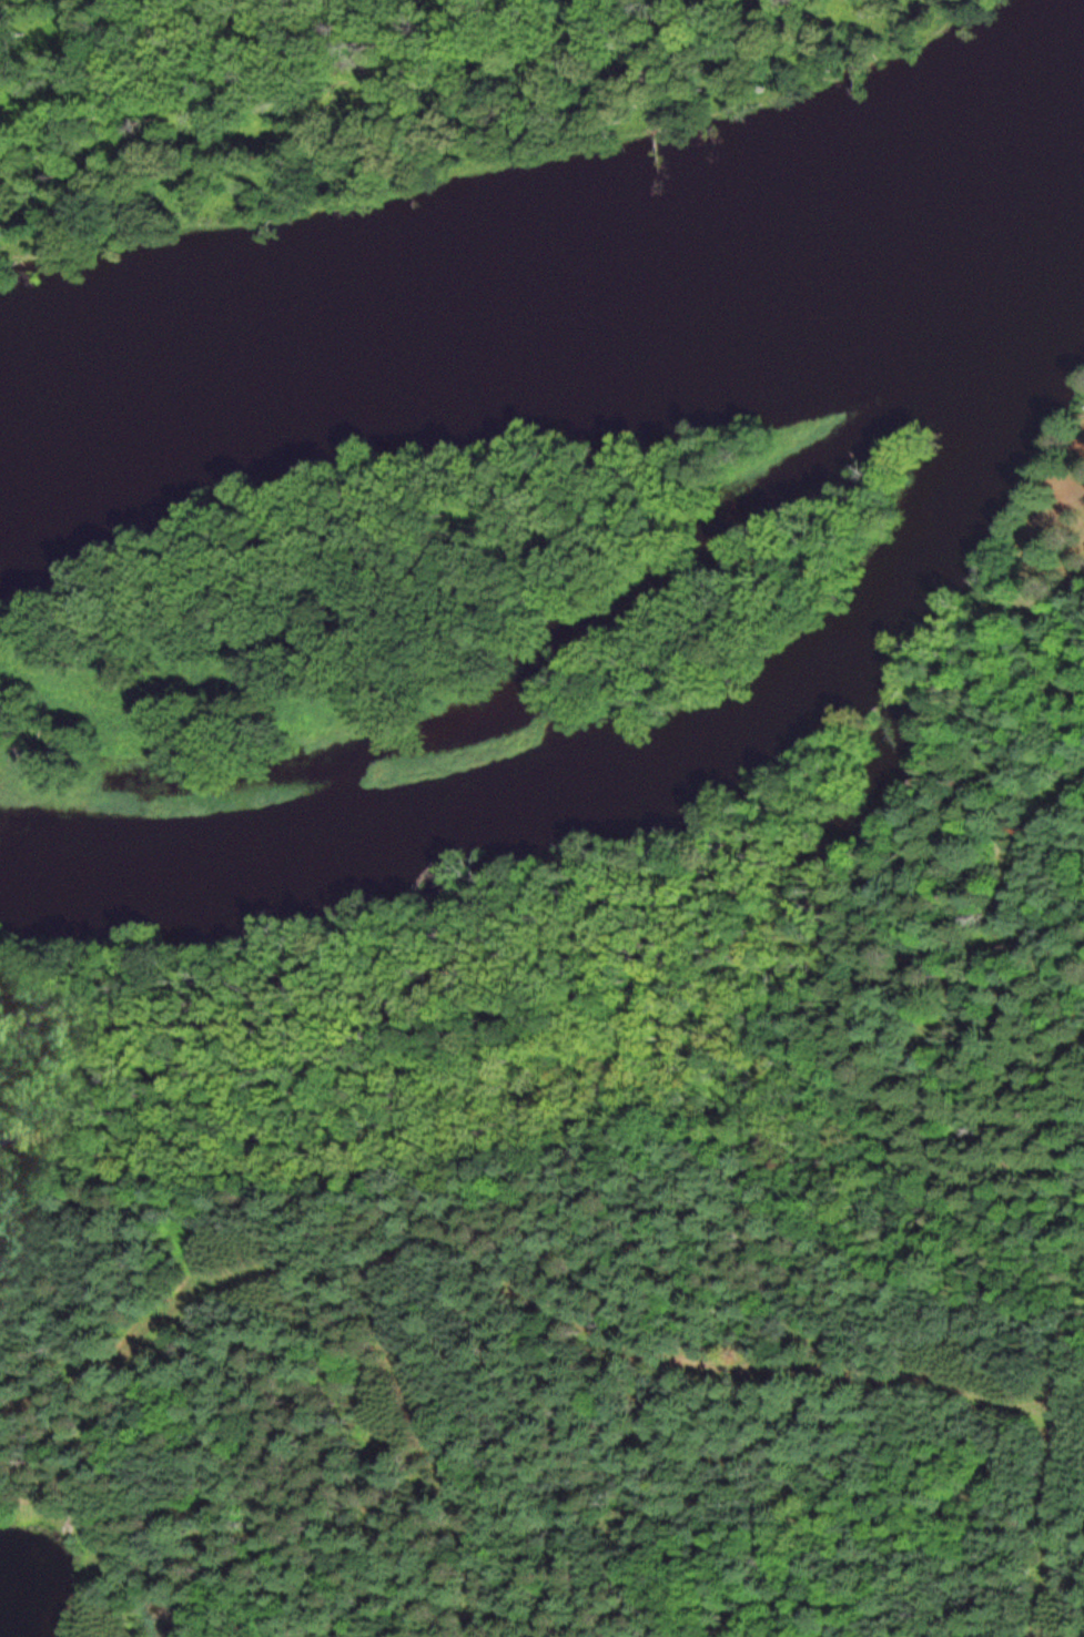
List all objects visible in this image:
river: (560, 271)

